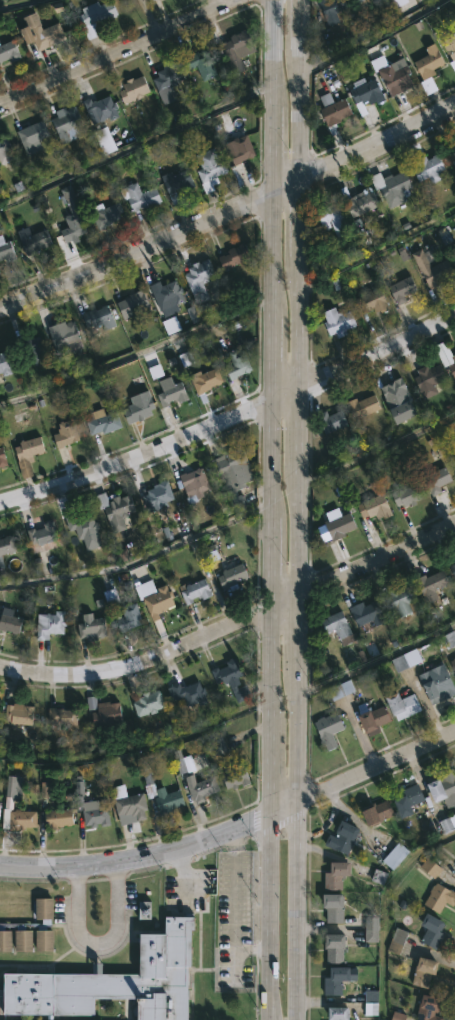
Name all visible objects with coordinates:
building: (152, 0)
building: (358, 1)
road: (15, 2)
building: (376, 2)
building: (398, 2)
building: (332, 10)
building: (96, 16)
road: (148, 17)
road: (297, 25)
building: (43, 32)
road: (97, 44)
building: (236, 49)
building: (9, 51)
road: (119, 52)
road: (273, 53)
building: (452, 56)
building: (202, 62)
building: (430, 63)
building: (169, 75)
building: (395, 76)
building: (135, 89)
building: (366, 93)
building: (103, 107)
building: (334, 110)
road: (298, 115)
building: (70, 124)
building: (33, 135)
building: (104, 140)
road: (377, 143)
building: (240, 149)
road: (271, 150)
building: (6, 151)
building: (452, 152)
building: (211, 168)
building: (430, 168)
building: (179, 184)
building: (393, 185)
road: (284, 186)
building: (140, 196)
building: (361, 200)
building: (106, 214)
building: (73, 215)
road: (298, 218)
building: (332, 220)
building: (36, 241)
building: (7, 250)
road: (136, 252)
building: (402, 253)
building: (236, 255)
road: (270, 255)
building: (454, 255)
building: (433, 269)
building: (200, 272)
building: (403, 289)
building: (168, 291)
building: (373, 301)
building: (135, 304)
building: (100, 316)
building: (339, 321)
road: (297, 323)
building: (170, 325)
building: (66, 334)
building: (33, 347)
road: (376, 354)
road: (270, 359)
building: (454, 360)
building: (5, 364)
building: (238, 364)
building: (453, 369)
building: (429, 381)
building: (206, 382)
building: (172, 392)
road: (283, 395)
building: (400, 400)
building: (364, 406)
building: (140, 407)
building: (332, 420)
building: (103, 421)
road: (297, 427)
building: (66, 433)
road: (270, 451)
building: (28, 454)
building: (2, 457)
road: (137, 458)
building: (235, 469)
building: (438, 479)
building: (195, 483)
building: (159, 495)
building: (407, 495)
building: (375, 507)
building: (116, 509)
building: (83, 526)
building: (340, 526)
road: (297, 530)
building: (43, 534)
building: (7, 545)
road: (270, 556)
road: (139, 559)
road: (377, 561)
building: (230, 563)
building: (453, 568)
building: (234, 574)
building: (432, 585)
building: (195, 591)
building: (110, 597)
building: (401, 600)
building: (158, 602)
road: (284, 603)
building: (368, 613)
building: (129, 618)
building: (10, 623)
building: (51, 624)
building: (92, 626)
building: (339, 627)
road: (298, 635)
building: (448, 640)
building: (405, 660)
road: (138, 663)
building: (453, 663)
road: (270, 670)
building: (233, 678)
building: (440, 684)
building: (342, 690)
building: (188, 693)
building: (91, 703)
building: (148, 704)
building: (404, 705)
building: (20, 714)
building: (107, 715)
building: (63, 716)
building: (373, 717)
building: (329, 729)
road: (138, 746)
building: (216, 747)
building: (184, 765)
road: (271, 776)
road: (376, 776)
building: (236, 777)
building: (444, 786)
building: (202, 788)
building: (12, 794)
building: (162, 794)
building: (410, 802)
building: (87, 804)
building: (130, 806)
building: (0, 807)
building: (379, 813)
road: (285, 816)
building: (22, 819)
building: (56, 819)
building: (440, 827)
building: (344, 838)
road: (297, 847)
road: (137, 856)
building: (396, 856)
building: (430, 868)
building: (337, 875)
building: (439, 897)
building: (335, 908)
road: (231, 920)
road: (271, 920)
building: (30, 927)
building: (372, 929)
building: (433, 931)
building: (398, 941)
road: (96, 942)
road: (251, 949)
building: (335, 949)
building: (425, 972)
building: (368, 976)
building: (113, 980)
building: (338, 980)
building: (370, 1003)
building: (429, 1008)
building: (340, 1014)
building: (397, 1016)

